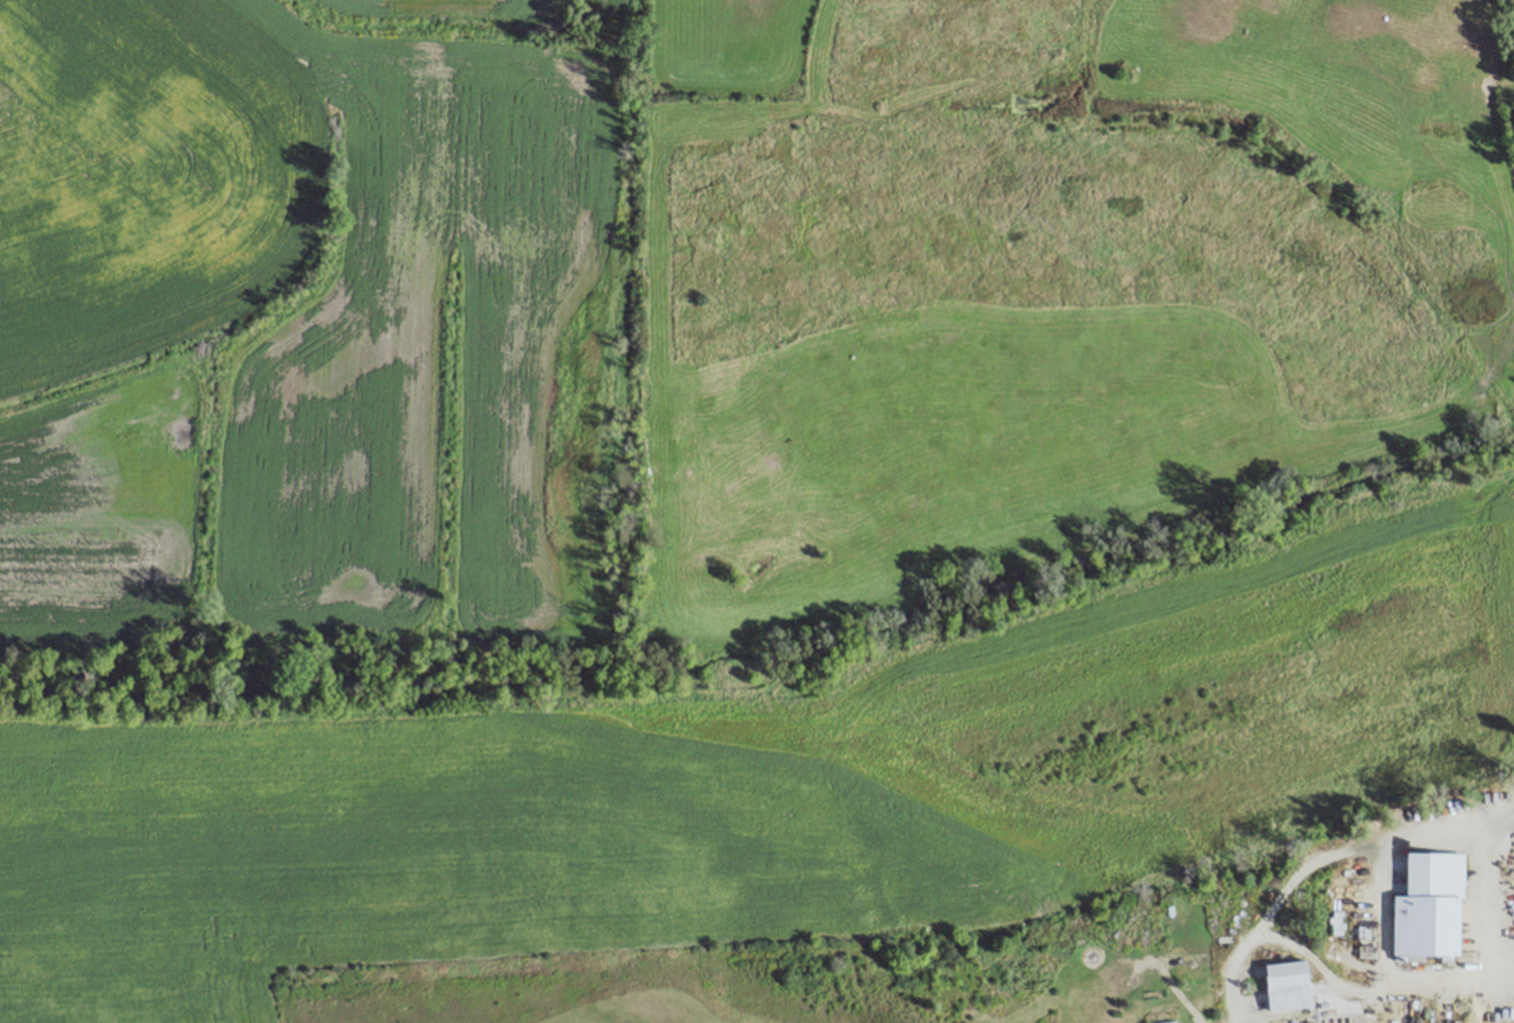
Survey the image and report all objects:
building: (1429, 904)
road: (1383, 911)
road: (1499, 913)
building: (1288, 984)

